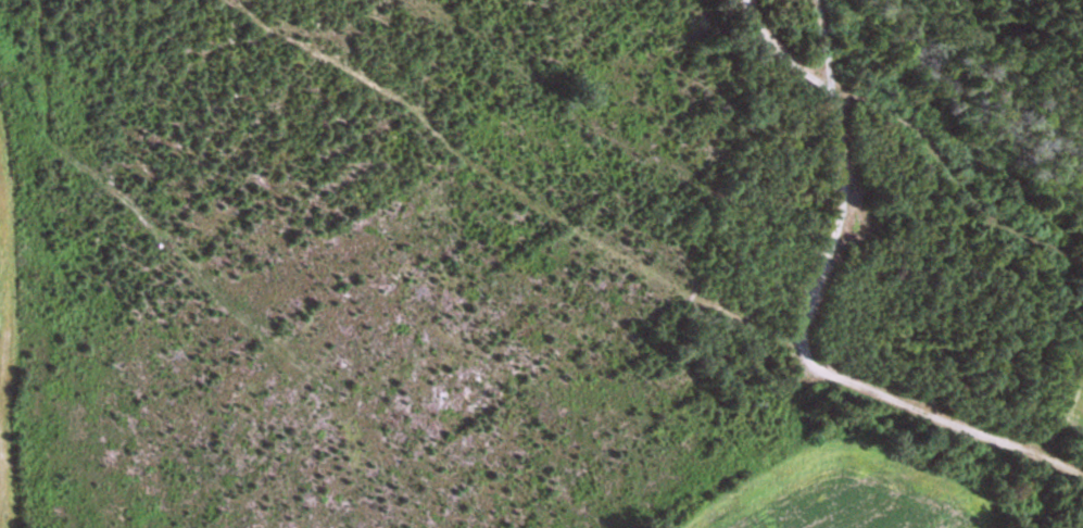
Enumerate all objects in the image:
road: (826, 47)
road: (783, 53)
park: (903, 231)
road: (819, 366)

